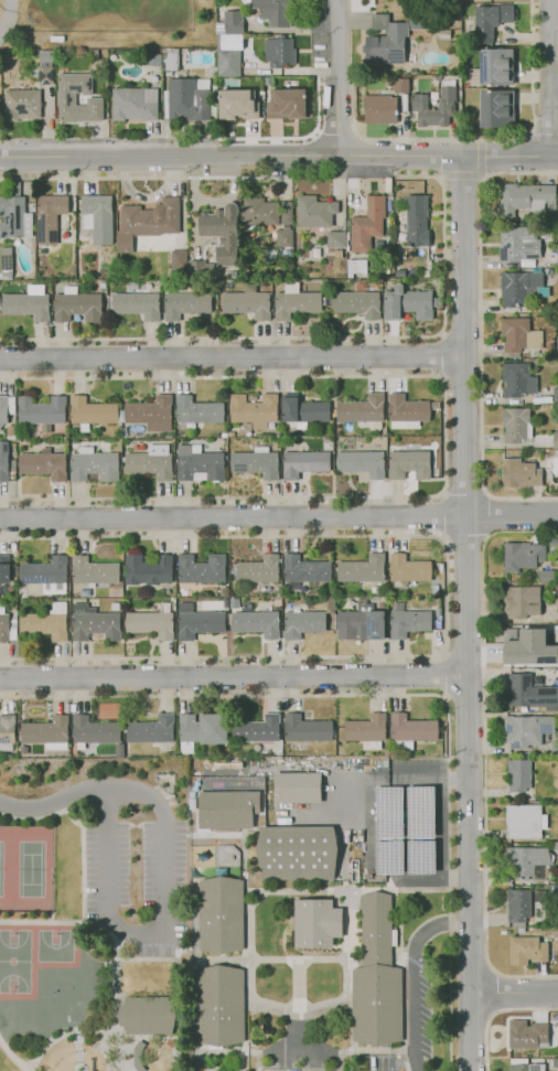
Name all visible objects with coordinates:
building: (480, 0)
building: (502, 0)
building: (275, 12)
building: (230, 23)
building: (489, 23)
building: (444, 34)
building: (385, 42)
building: (279, 52)
building: (229, 56)
building: (154, 60)
building: (171, 62)
building: (496, 67)
building: (45, 76)
road: (336, 77)
road: (551, 78)
building: (400, 85)
building: (187, 99)
building: (67, 100)
building: (135, 104)
building: (237, 104)
building: (286, 104)
building: (21, 105)
building: (419, 106)
building: (496, 108)
building: (379, 109)
road: (314, 133)
road: (544, 135)
road: (335, 136)
road: (356, 137)
road: (285, 139)
road: (481, 139)
road: (11, 148)
road: (229, 156)
road: (479, 156)
road: (508, 157)
road: (459, 173)
road: (438, 175)
road: (482, 175)
building: (525, 199)
building: (259, 212)
building: (314, 212)
building: (287, 214)
building: (15, 216)
building: (52, 217)
building: (97, 217)
building: (416, 221)
building: (212, 223)
building: (367, 225)
building: (153, 228)
building: (283, 237)
building: (336, 239)
building: (518, 244)
building: (268, 254)
road: (443, 256)
building: (557, 256)
building: (195, 257)
building: (7, 270)
building: (400, 274)
building: (426, 274)
building: (521, 287)
building: (248, 301)
building: (407, 302)
building: (29, 303)
building: (296, 303)
building: (357, 303)
building: (136, 304)
building: (185, 304)
building: (77, 306)
road: (481, 334)
building: (519, 335)
road: (232, 356)
road: (442, 356)
building: (517, 381)
building: (555, 395)
building: (436, 406)
building: (6, 408)
building: (254, 410)
building: (197, 411)
building: (303, 411)
building: (362, 411)
building: (407, 411)
building: (42, 413)
building: (93, 413)
building: (150, 414)
building: (515, 425)
building: (11, 431)
road: (444, 437)
building: (549, 440)
building: (557, 452)
building: (436, 454)
building: (3, 461)
building: (151, 462)
building: (408, 462)
building: (42, 463)
building: (256, 463)
building: (303, 463)
building: (362, 463)
building: (198, 464)
building: (95, 465)
building: (434, 474)
building: (519, 474)
road: (465, 493)
road: (486, 513)
road: (444, 514)
road: (279, 518)
road: (465, 534)
building: (522, 556)
building: (440, 567)
building: (4, 569)
building: (202, 569)
building: (362, 569)
building: (408, 569)
building: (148, 570)
building: (258, 570)
building: (304, 570)
building: (93, 571)
building: (557, 574)
building: (45, 575)
building: (545, 576)
building: (376, 589)
building: (224, 591)
building: (557, 592)
road: (448, 593)
building: (519, 601)
building: (234, 602)
building: (277, 602)
building: (225, 603)
building: (116, 607)
building: (438, 612)
road: (466, 613)
building: (362, 620)
building: (305, 621)
building: (407, 621)
building: (437, 621)
building: (197, 622)
building: (46, 623)
building: (94, 623)
building: (151, 623)
building: (256, 623)
building: (8, 625)
building: (552, 636)
building: (518, 645)
road: (444, 675)
road: (234, 677)
building: (537, 681)
building: (529, 693)
road: (222, 697)
building: (257, 729)
building: (307, 729)
building: (152, 730)
building: (202, 730)
building: (410, 730)
building: (8, 731)
building: (94, 731)
building: (367, 731)
building: (527, 731)
building: (47, 732)
building: (24, 749)
road: (484, 749)
building: (555, 749)
building: (119, 750)
building: (218, 753)
building: (233, 753)
building: (45, 765)
building: (227, 765)
building: (36, 774)
building: (518, 778)
road: (408, 781)
building: (297, 786)
road: (51, 801)
building: (227, 808)
parking lot: (404, 822)
building: (524, 822)
road: (384, 828)
road: (82, 829)
road: (431, 829)
road: (213, 833)
building: (555, 846)
building: (297, 853)
road: (244, 859)
building: (527, 861)
park: (0, 866)
park: (31, 870)
parking lot: (138, 880)
road: (449, 883)
building: (555, 889)
road: (300, 890)
road: (400, 890)
building: (539, 896)
building: (518, 906)
park: (92, 913)
building: (222, 914)
building: (312, 922)
road: (285, 924)
road: (158, 928)
road: (114, 944)
road: (249, 944)
park: (55, 945)
building: (526, 951)
road: (272, 957)
road: (169, 958)
park: (14, 961)
road: (194, 963)
road: (351, 970)
road: (414, 975)
building: (376, 976)
road: (298, 988)
road: (514, 993)
building: (219, 1005)
road: (301, 1009)
road: (497, 1014)
building: (148, 1015)
road: (179, 1015)
road: (299, 1018)
parking lot: (409, 1025)
road: (247, 1029)
road: (63, 1035)
building: (530, 1035)
road: (367, 1049)
road: (235, 1050)
road: (13, 1056)
building: (139, 1056)
building: (555, 1063)
building: (526, 1068)
road: (28, 1070)

